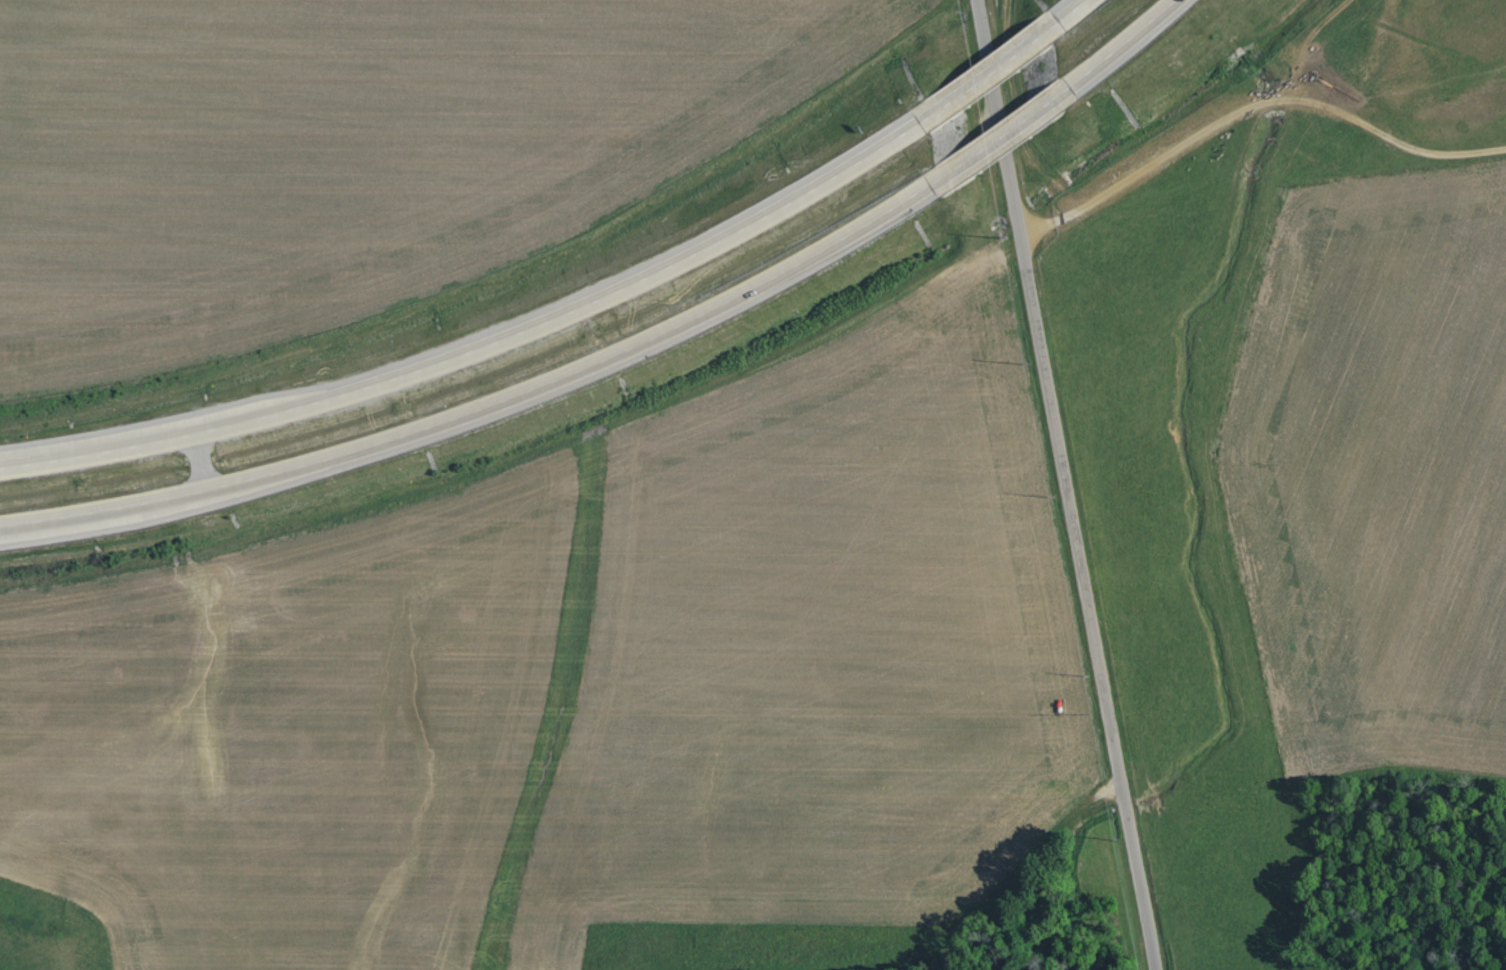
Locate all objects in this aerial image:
road: (1089, 11)
road: (1146, 45)
road: (1005, 74)
road: (1019, 140)
road: (488, 353)
road: (492, 413)
road: (213, 463)
road: (1063, 485)

